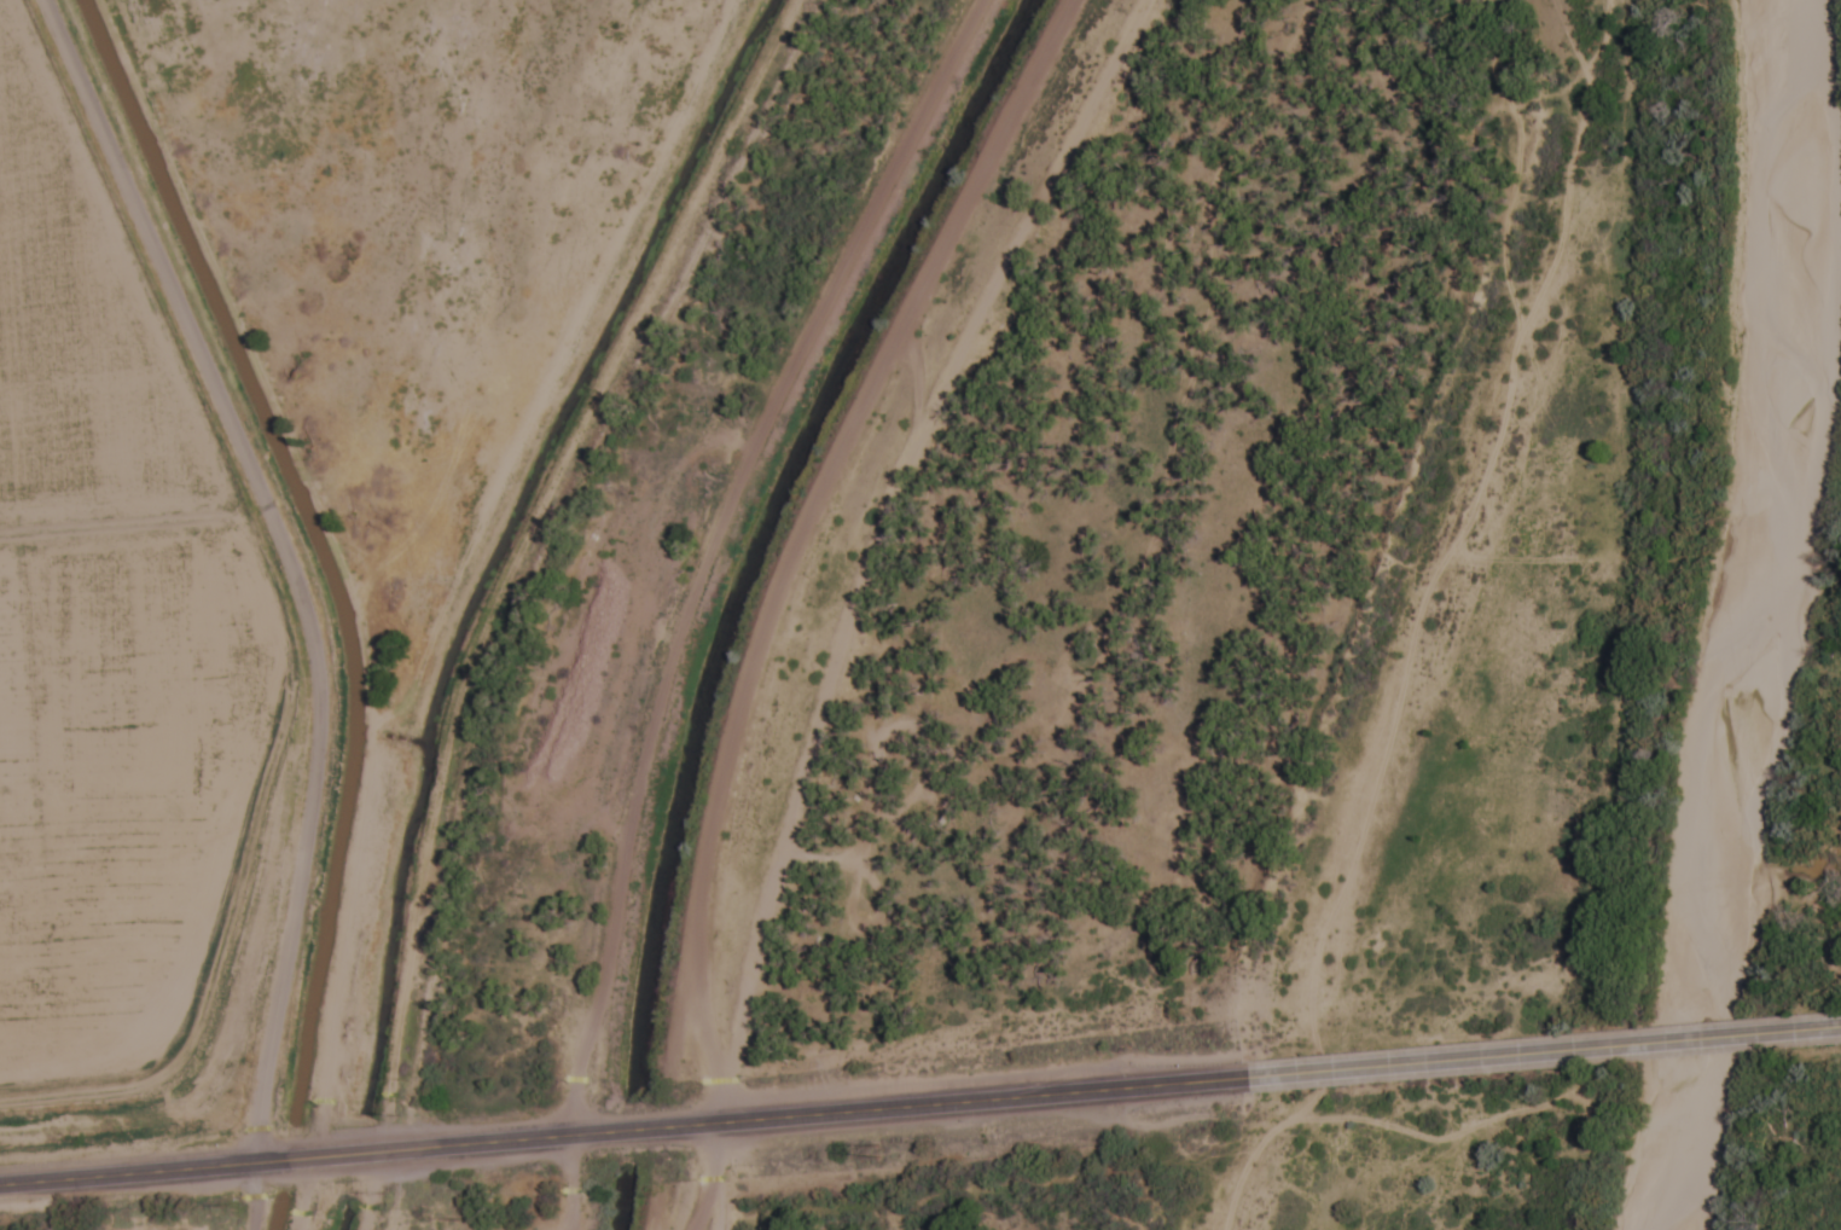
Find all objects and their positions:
river: (1779, 384)
road: (840, 540)
road: (704, 547)
road: (281, 564)
river: (1692, 999)
road: (1545, 1052)
road: (625, 1133)
road: (710, 1179)
road: (564, 1184)
road: (238, 1199)

